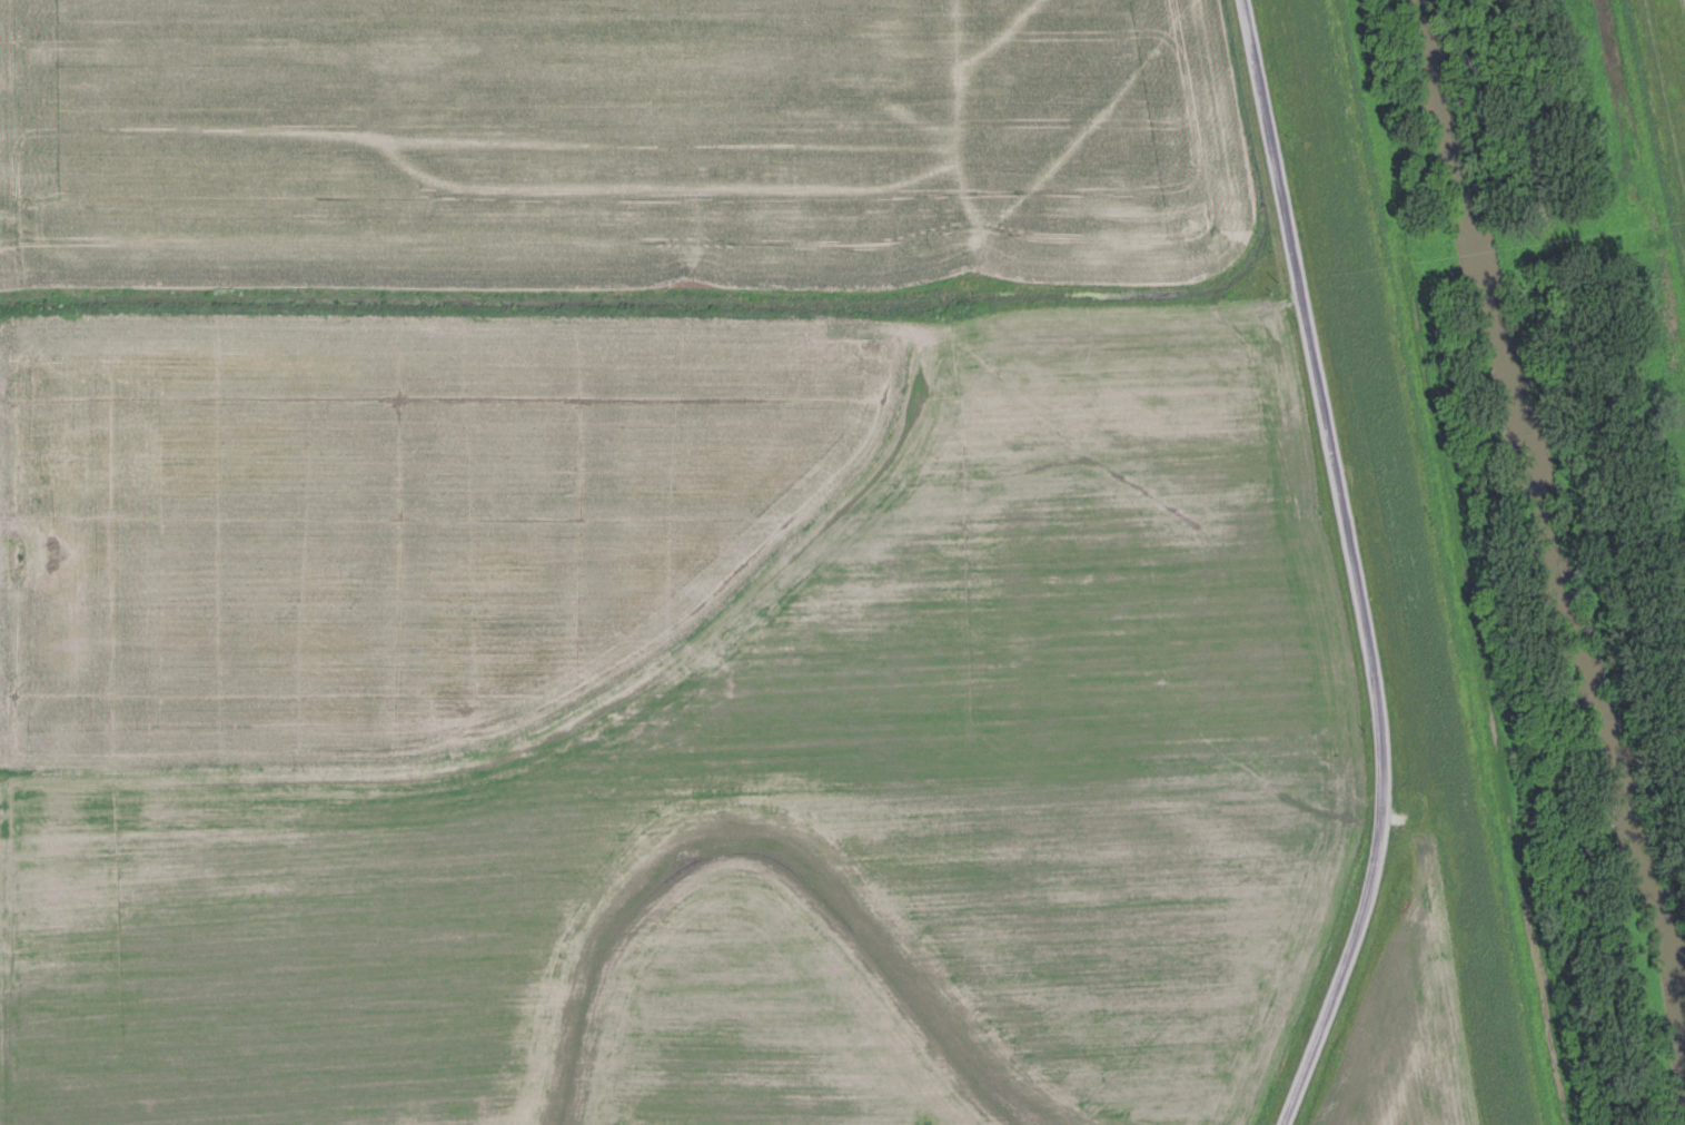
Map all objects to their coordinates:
road: (1297, 571)

